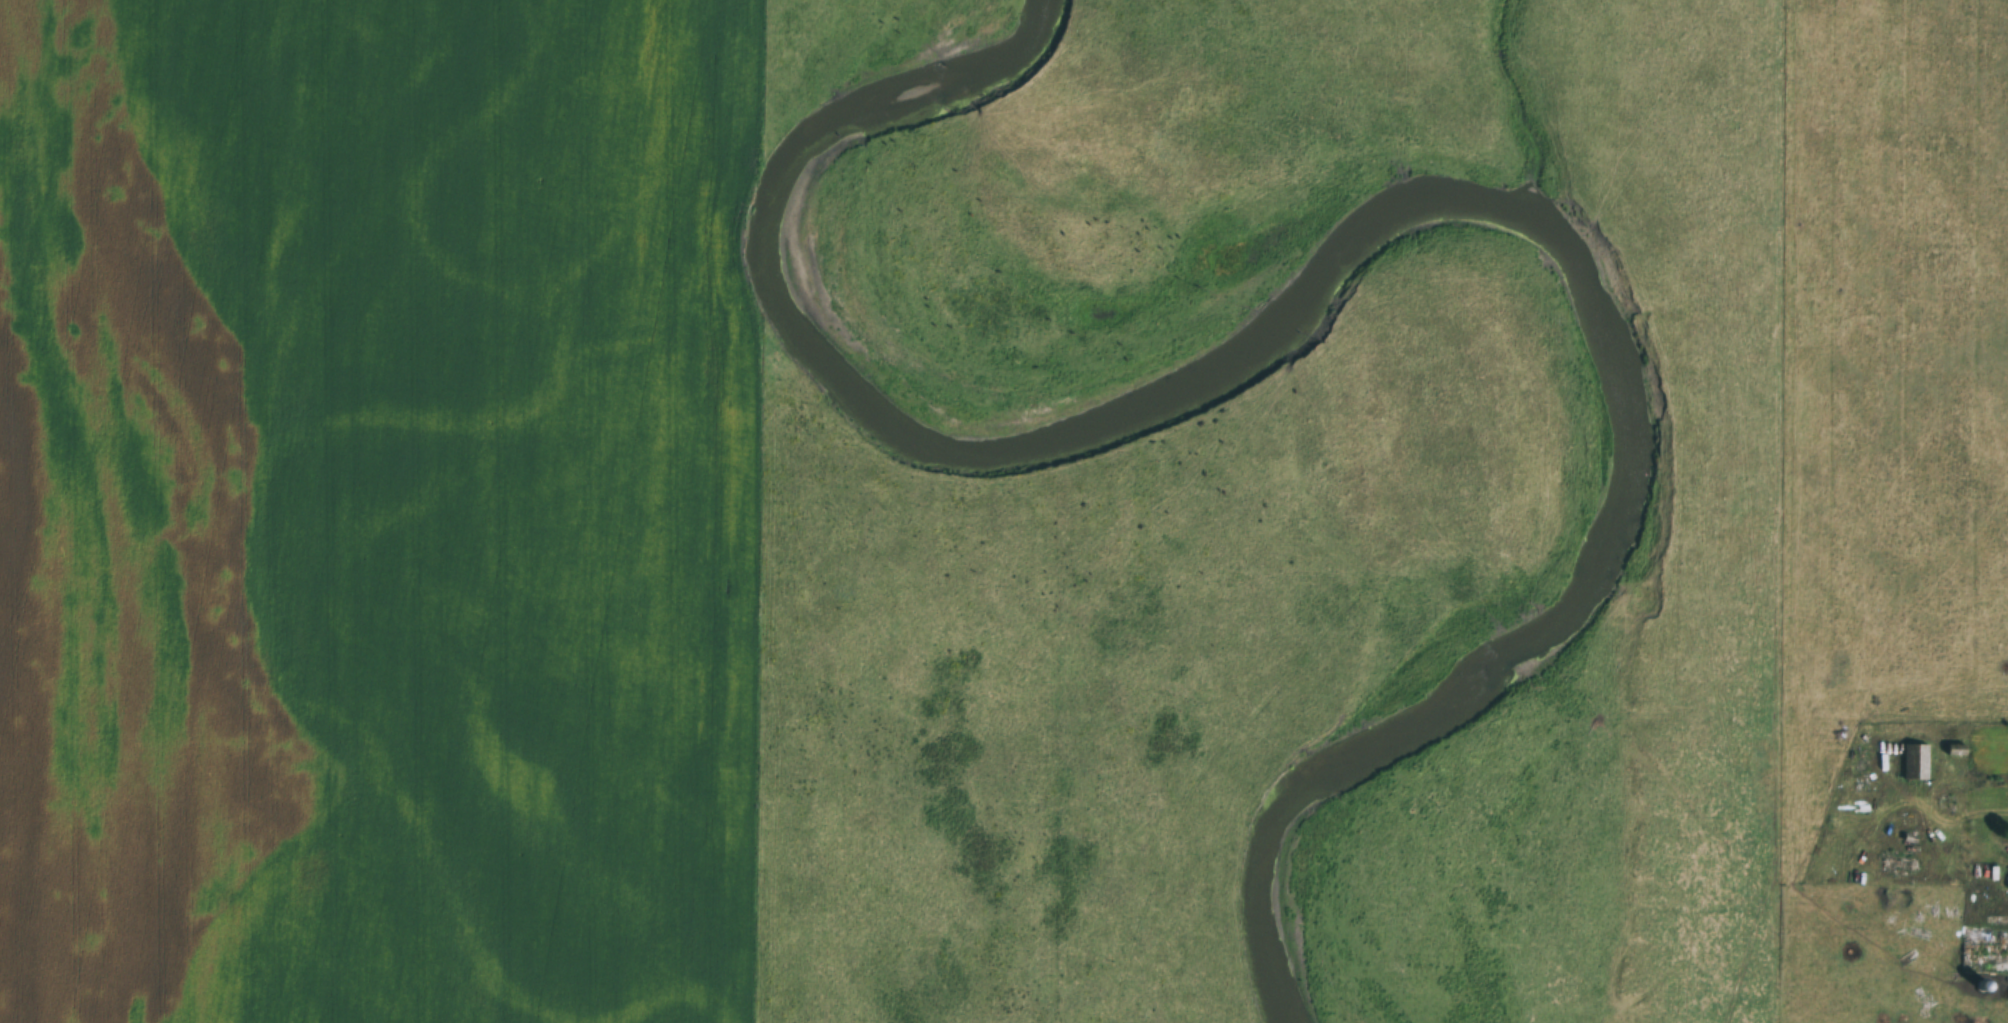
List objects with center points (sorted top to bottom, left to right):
river: (1376, 235)
building: (1955, 751)
building: (1914, 763)
building: (1899, 868)
building: (1984, 966)

